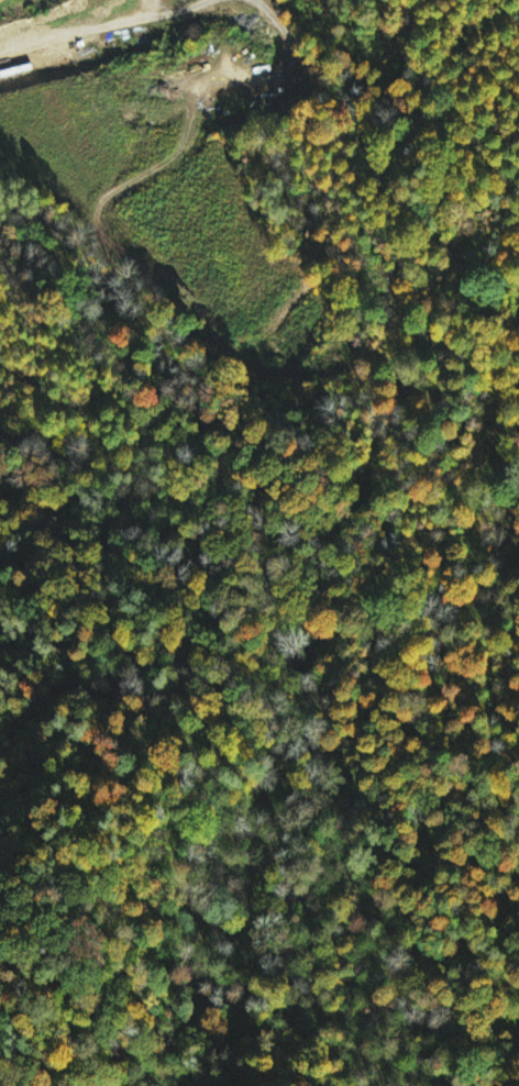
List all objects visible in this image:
road: (79, 29)

